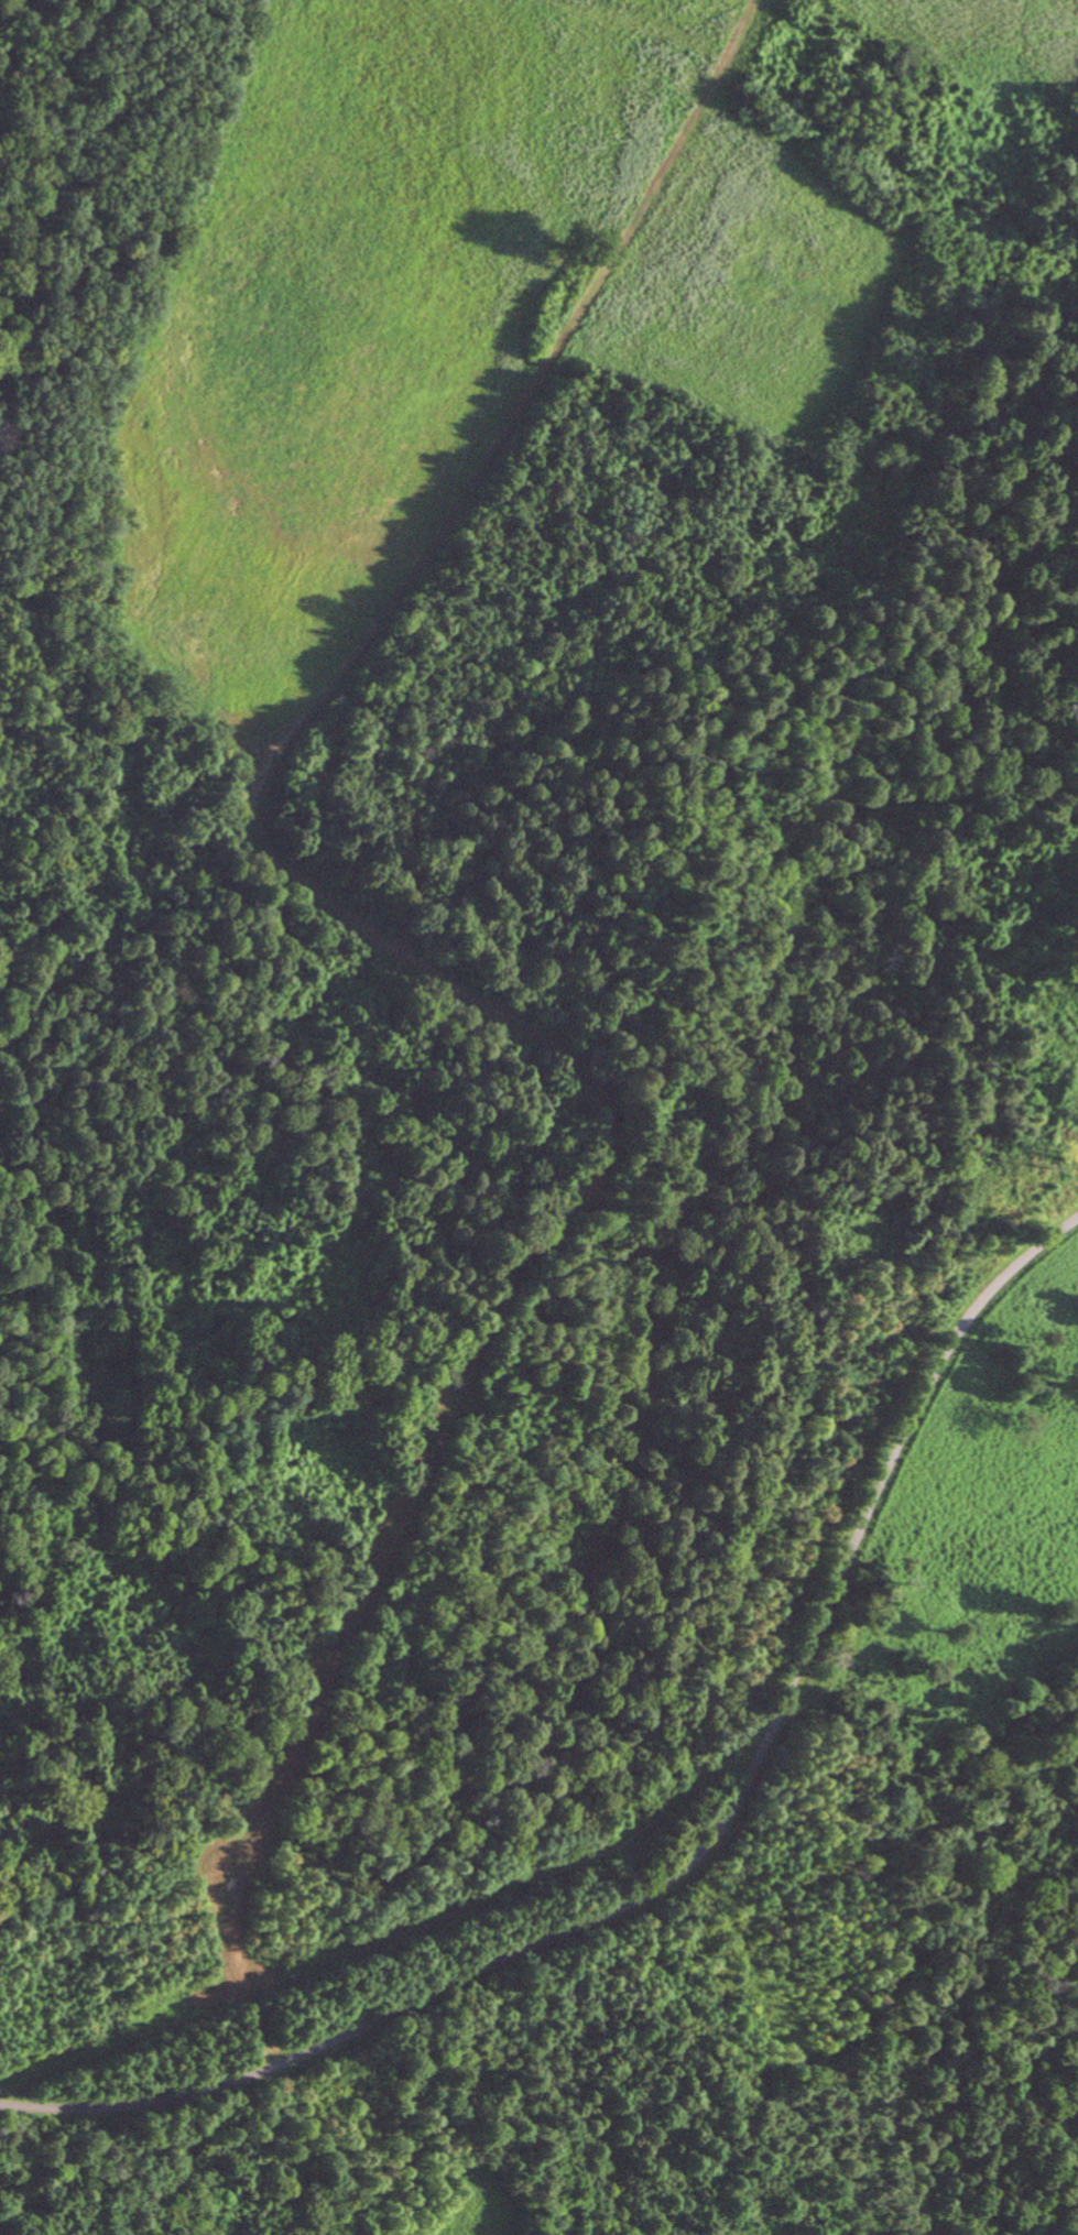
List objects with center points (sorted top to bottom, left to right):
road: (418, 1147)
road: (695, 1860)

